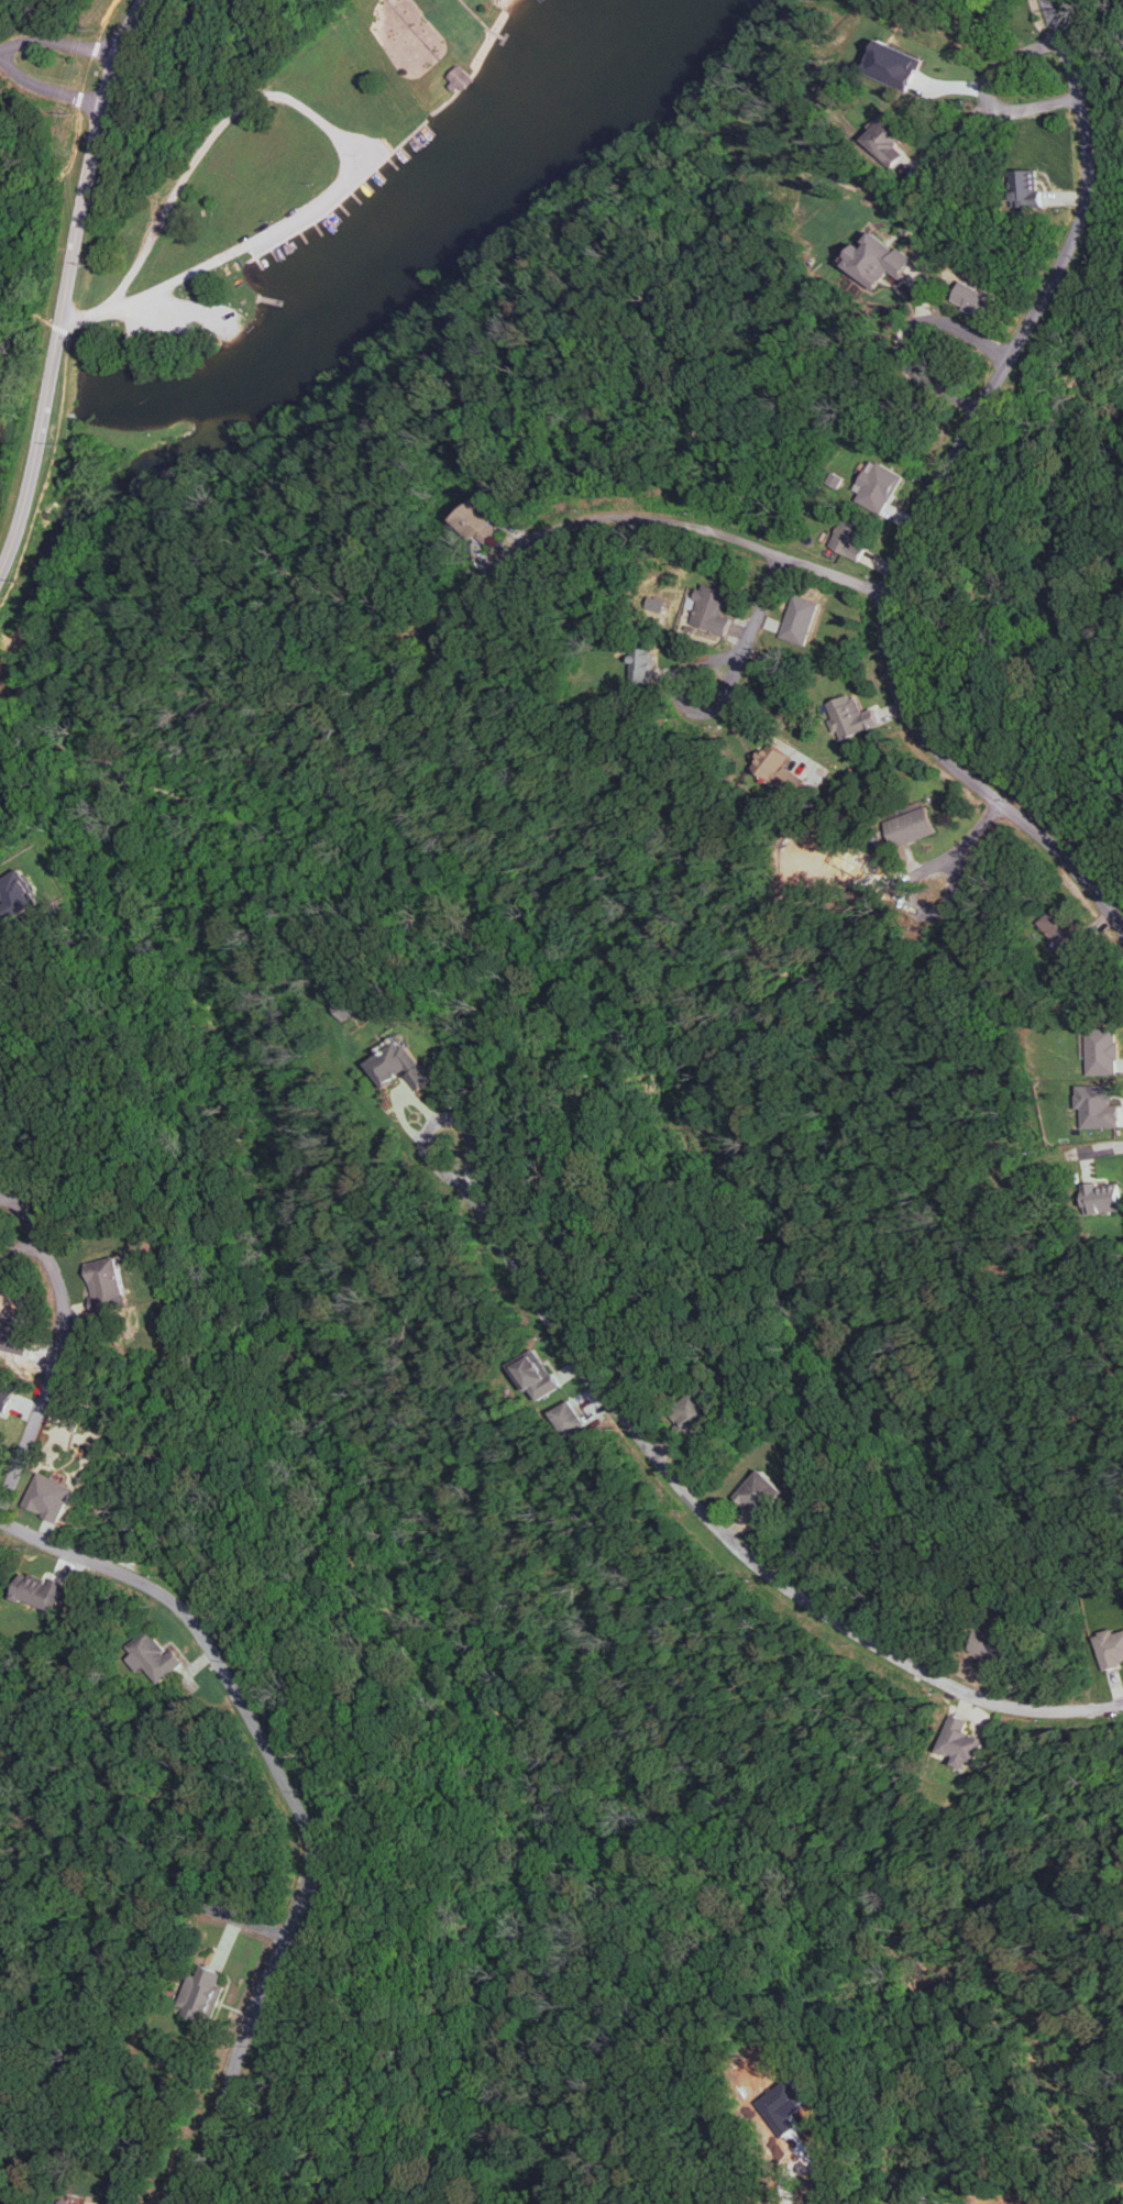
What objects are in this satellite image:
road: (103, 18)
road: (60, 41)
road: (95, 46)
road: (1, 51)
building: (891, 65)
road: (87, 73)
road: (46, 85)
road: (989, 92)
road: (78, 97)
pier: (429, 129)
road: (333, 140)
pier: (417, 140)
building: (884, 140)
pier: (405, 151)
pier: (393, 163)
park: (223, 166)
road: (64, 170)
pier: (379, 174)
pier: (368, 185)
building: (1025, 188)
road: (344, 196)
pier: (355, 197)
pier: (343, 208)
pier: (331, 219)
pier: (318, 228)
pier: (304, 235)
pier: (290, 244)
road: (1, 249)
road: (253, 250)
pier: (276, 253)
building: (874, 260)
pier: (262, 263)
road: (67, 285)
road: (15, 290)
pier: (269, 299)
building: (975, 300)
road: (194, 308)
parking lot: (181, 320)
road: (62, 329)
road: (911, 337)
road: (47, 472)
building: (876, 486)
road: (937, 492)
road: (635, 515)
building: (475, 521)
building: (849, 537)
building: (711, 608)
building: (800, 619)
road: (752, 628)
building: (641, 665)
road: (11, 679)
road: (681, 704)
building: (850, 716)
building: (772, 761)
building: (910, 826)
road: (969, 842)
building: (15, 895)
building: (1061, 929)
building: (348, 1006)
building: (1101, 1050)
building: (397, 1066)
building: (1097, 1106)
road: (1045, 1161)
building: (1101, 1198)
building: (106, 1286)
road: (59, 1360)
building: (533, 1374)
building: (5, 1396)
building: (691, 1412)
building: (566, 1418)
building: (758, 1495)
building: (47, 1497)
road: (316, 1510)
road: (717, 1523)
building: (37, 1591)
building: (988, 1643)
building: (1109, 1648)
building: (151, 1656)
building: (962, 1742)
road: (300, 1808)
road: (221, 1911)
building: (200, 1993)
building: (66, 2202)

